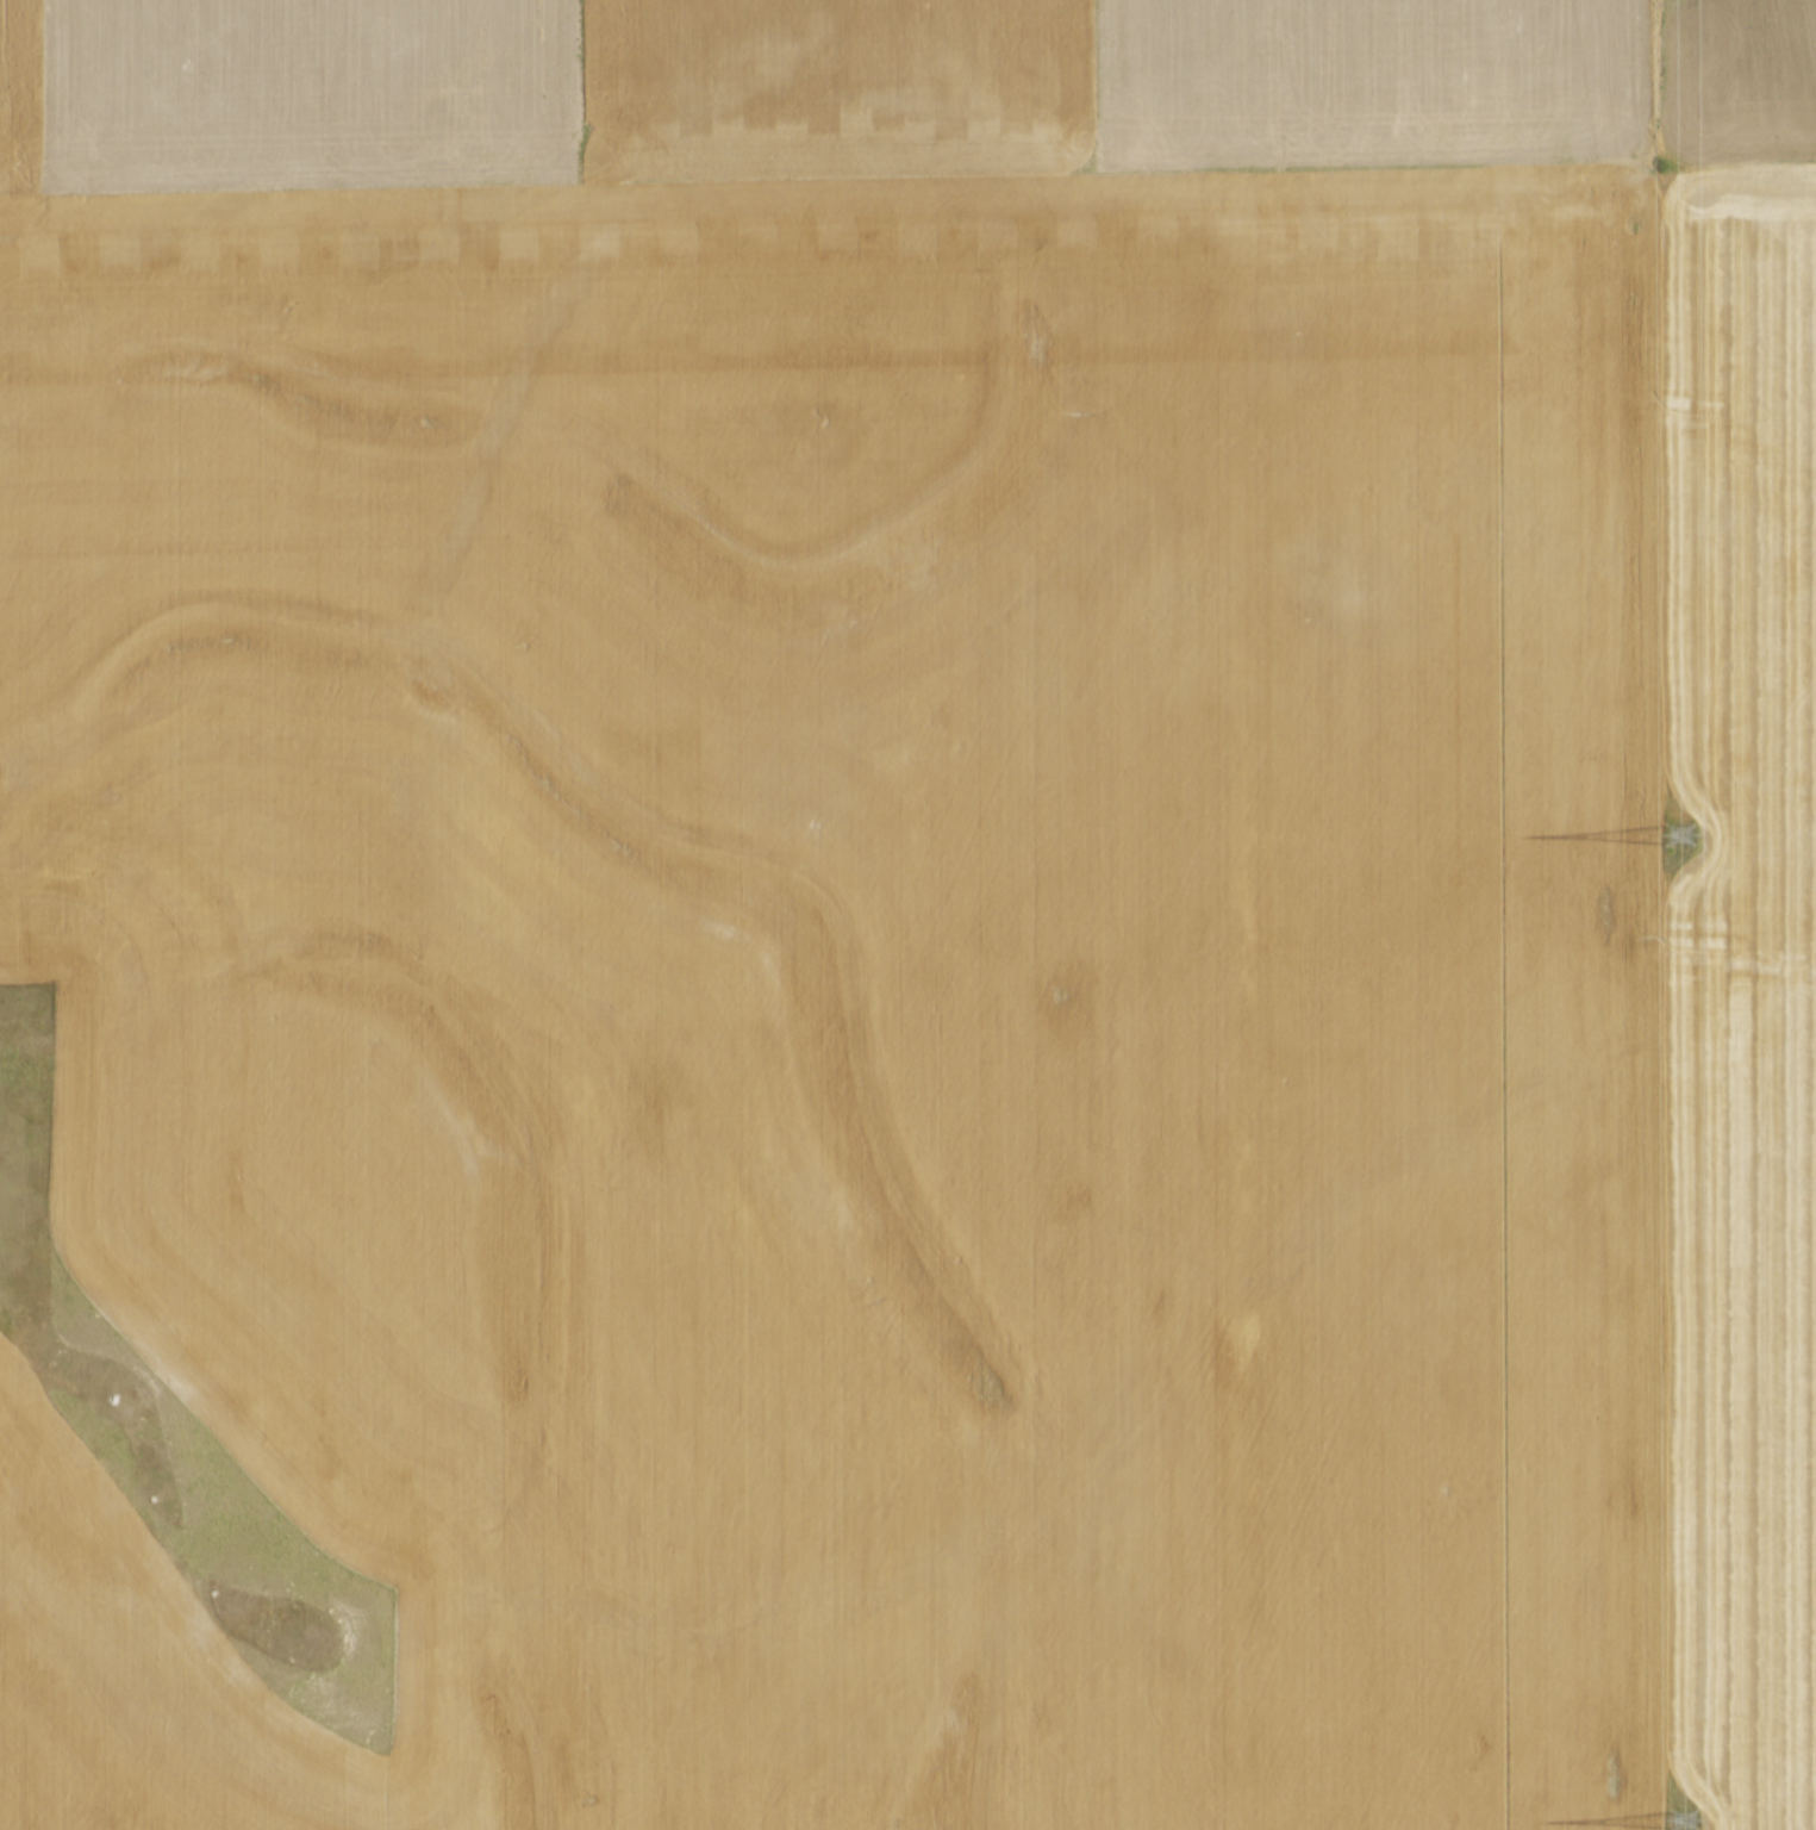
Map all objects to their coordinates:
power tower: (1673, 835)
power tower: (1678, 1817)

